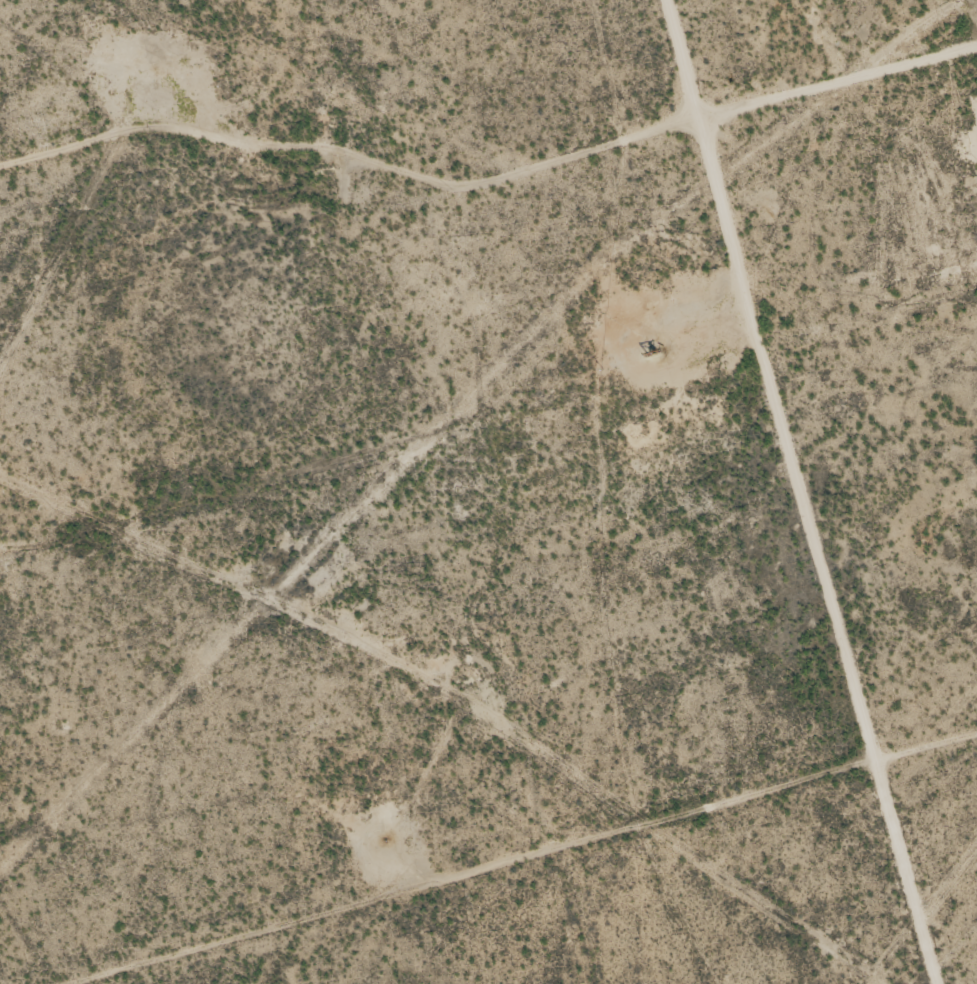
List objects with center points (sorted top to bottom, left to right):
road: (749, 492)

